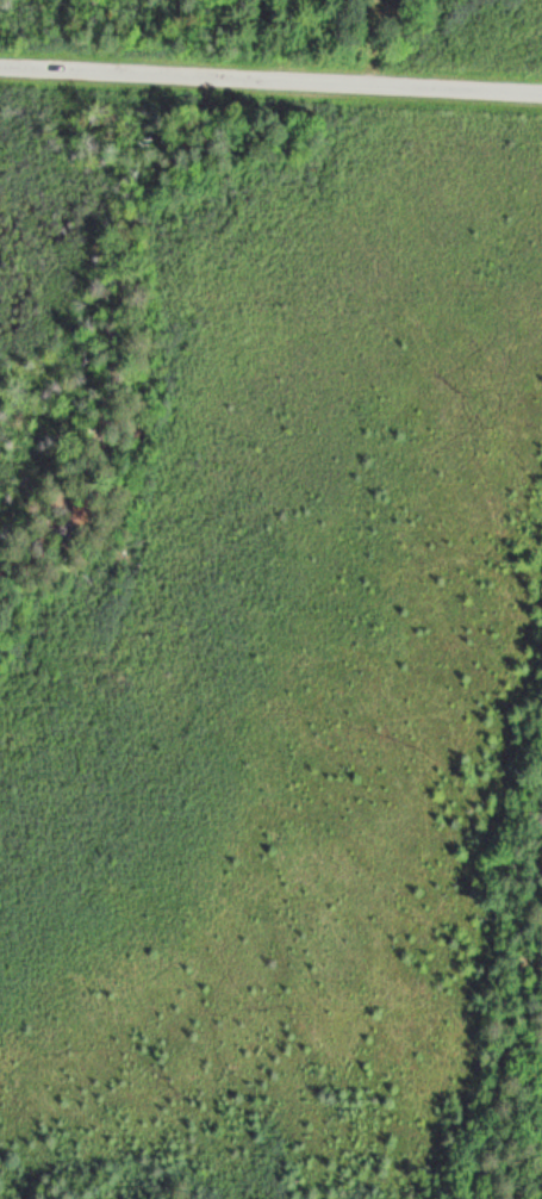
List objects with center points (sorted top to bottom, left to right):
road: (270, 77)

